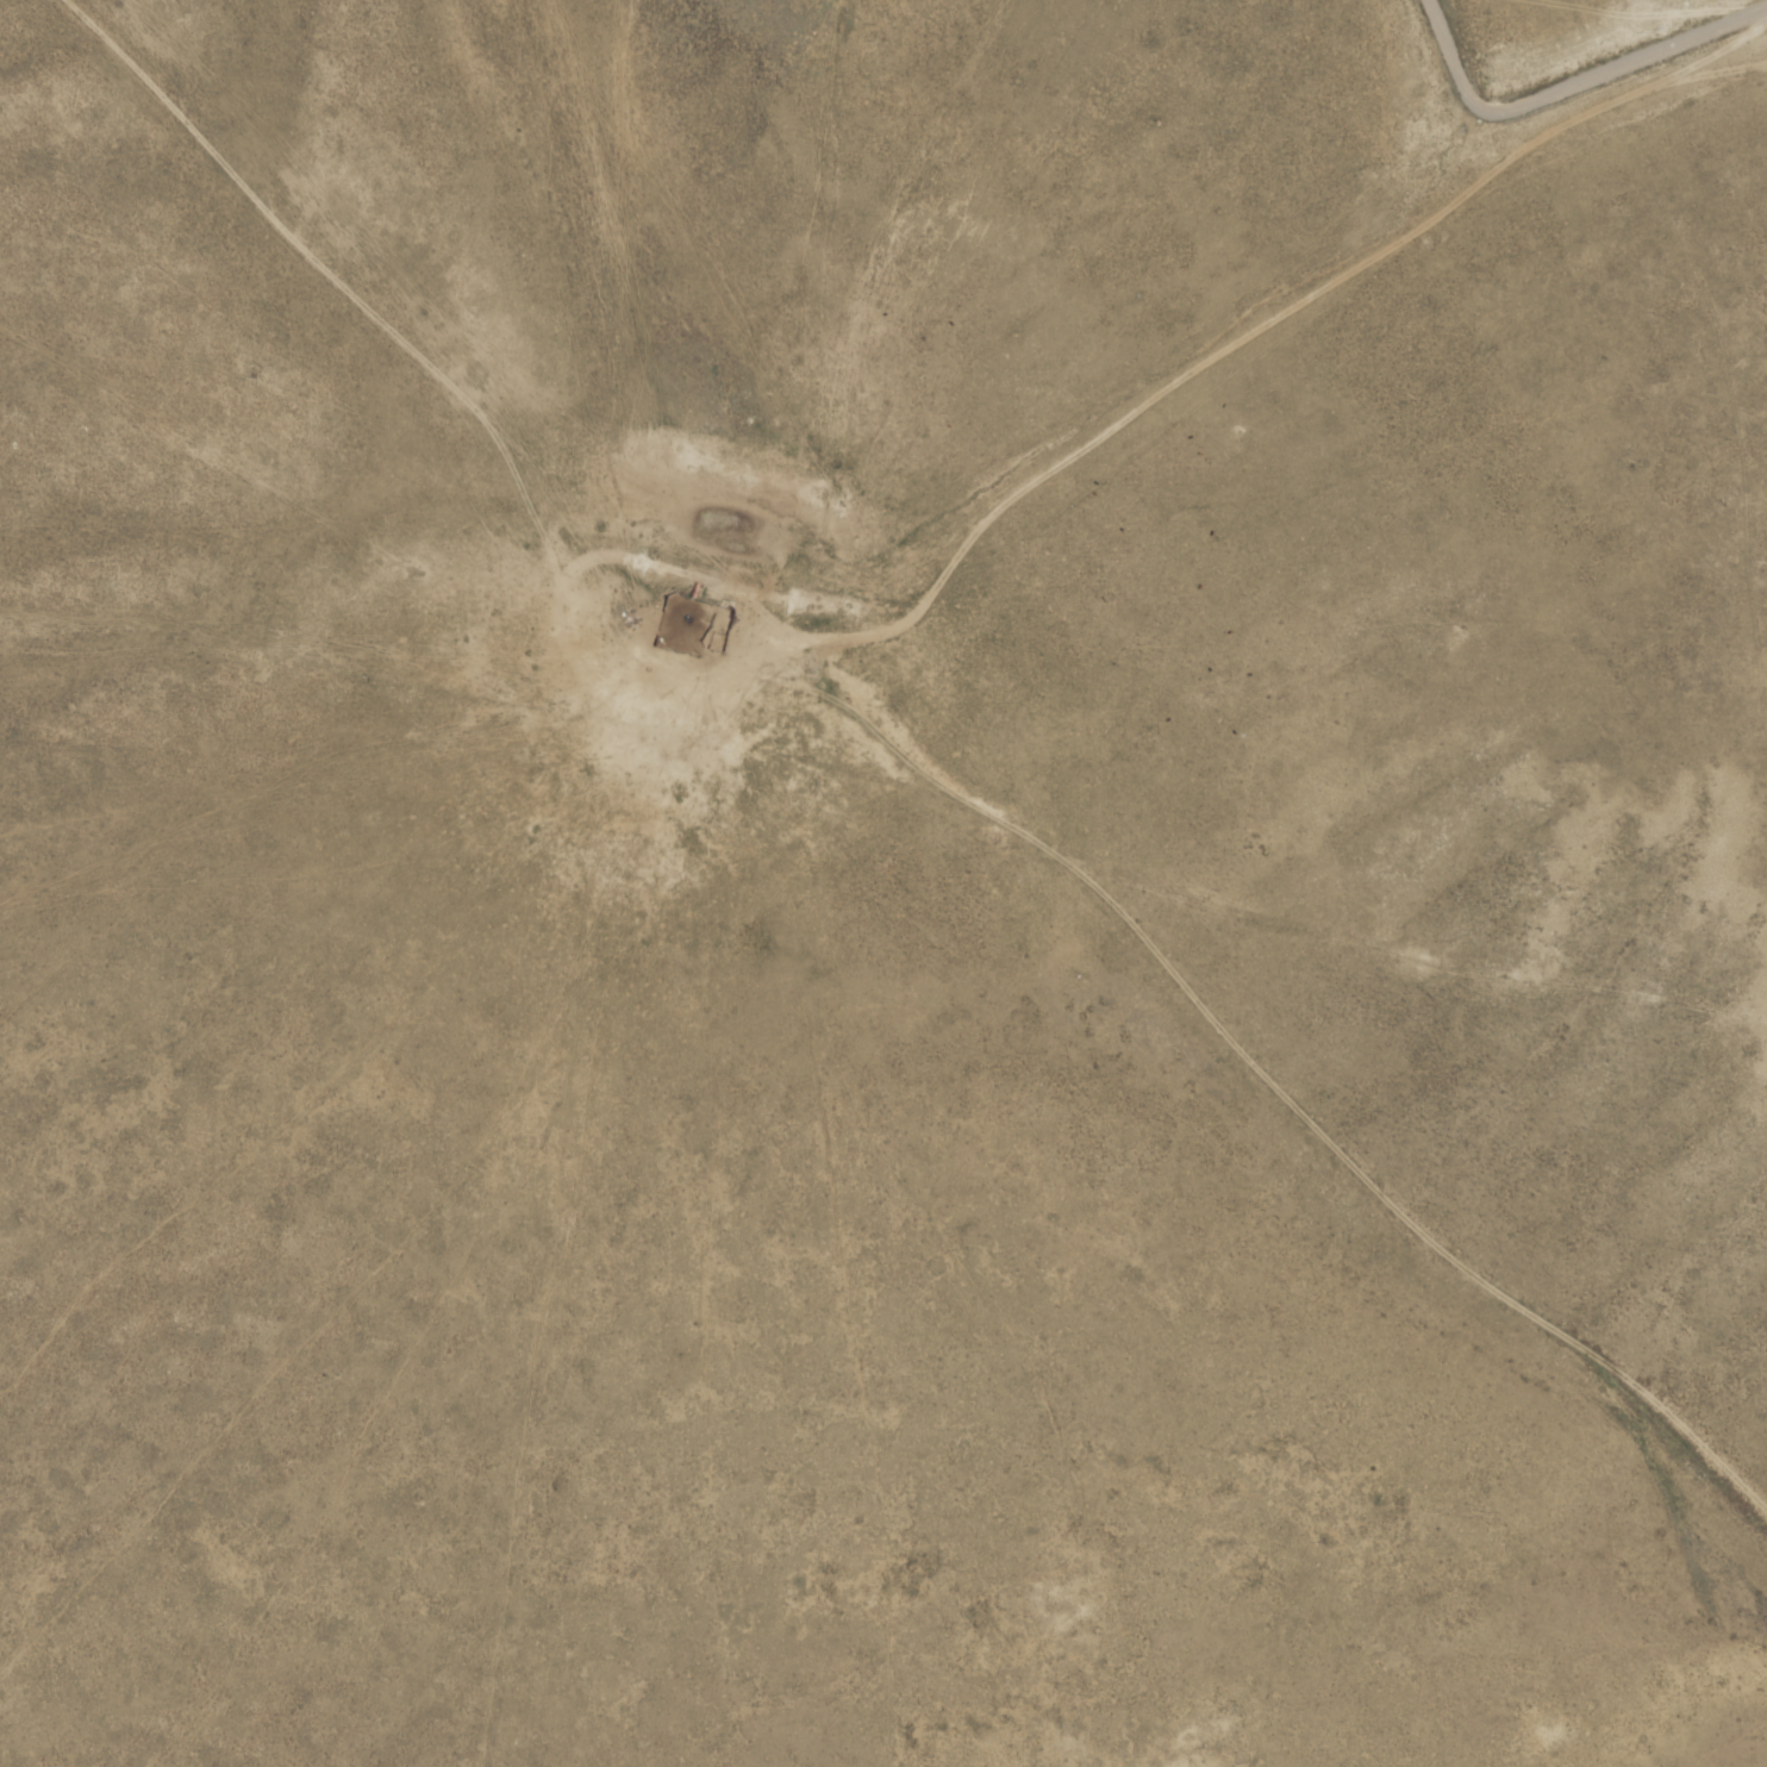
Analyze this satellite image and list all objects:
road: (1455, 64)
road: (1624, 73)

